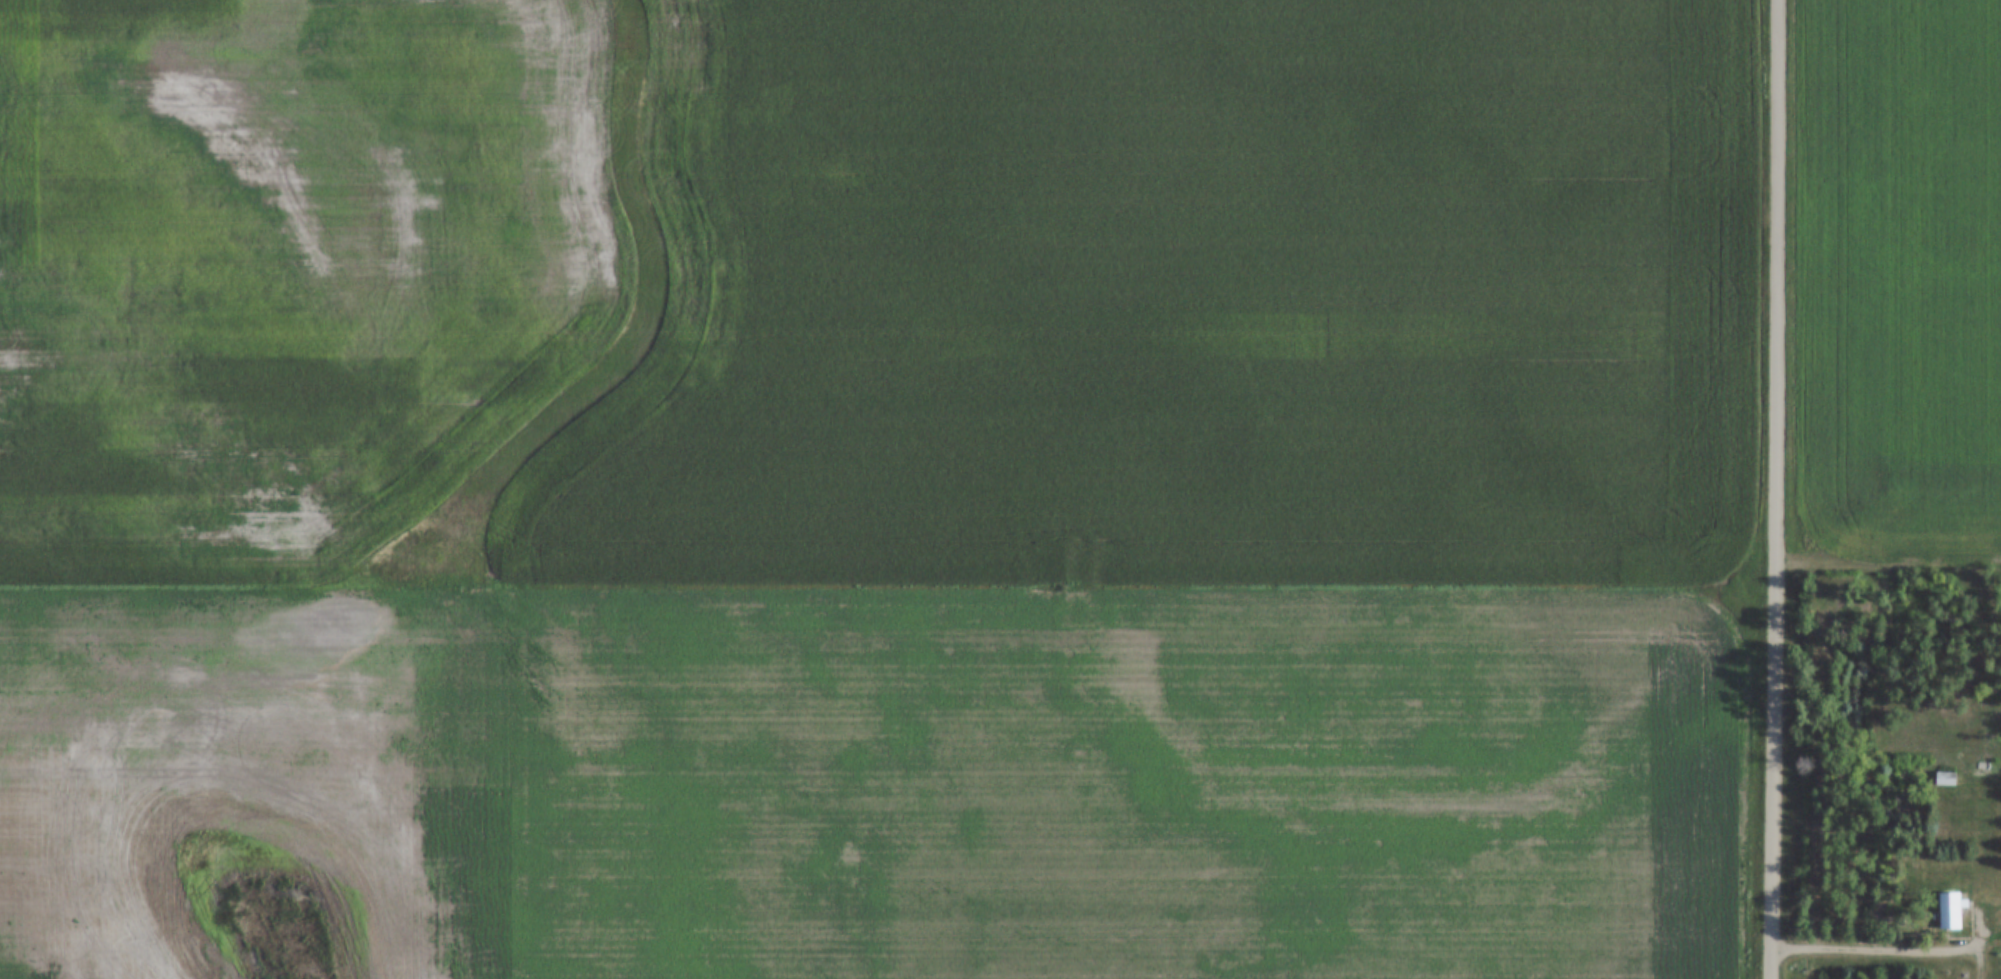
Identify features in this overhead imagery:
road: (1774, 489)
road: (1887, 560)
building: (1985, 773)
building: (1949, 910)
road: (1896, 949)

